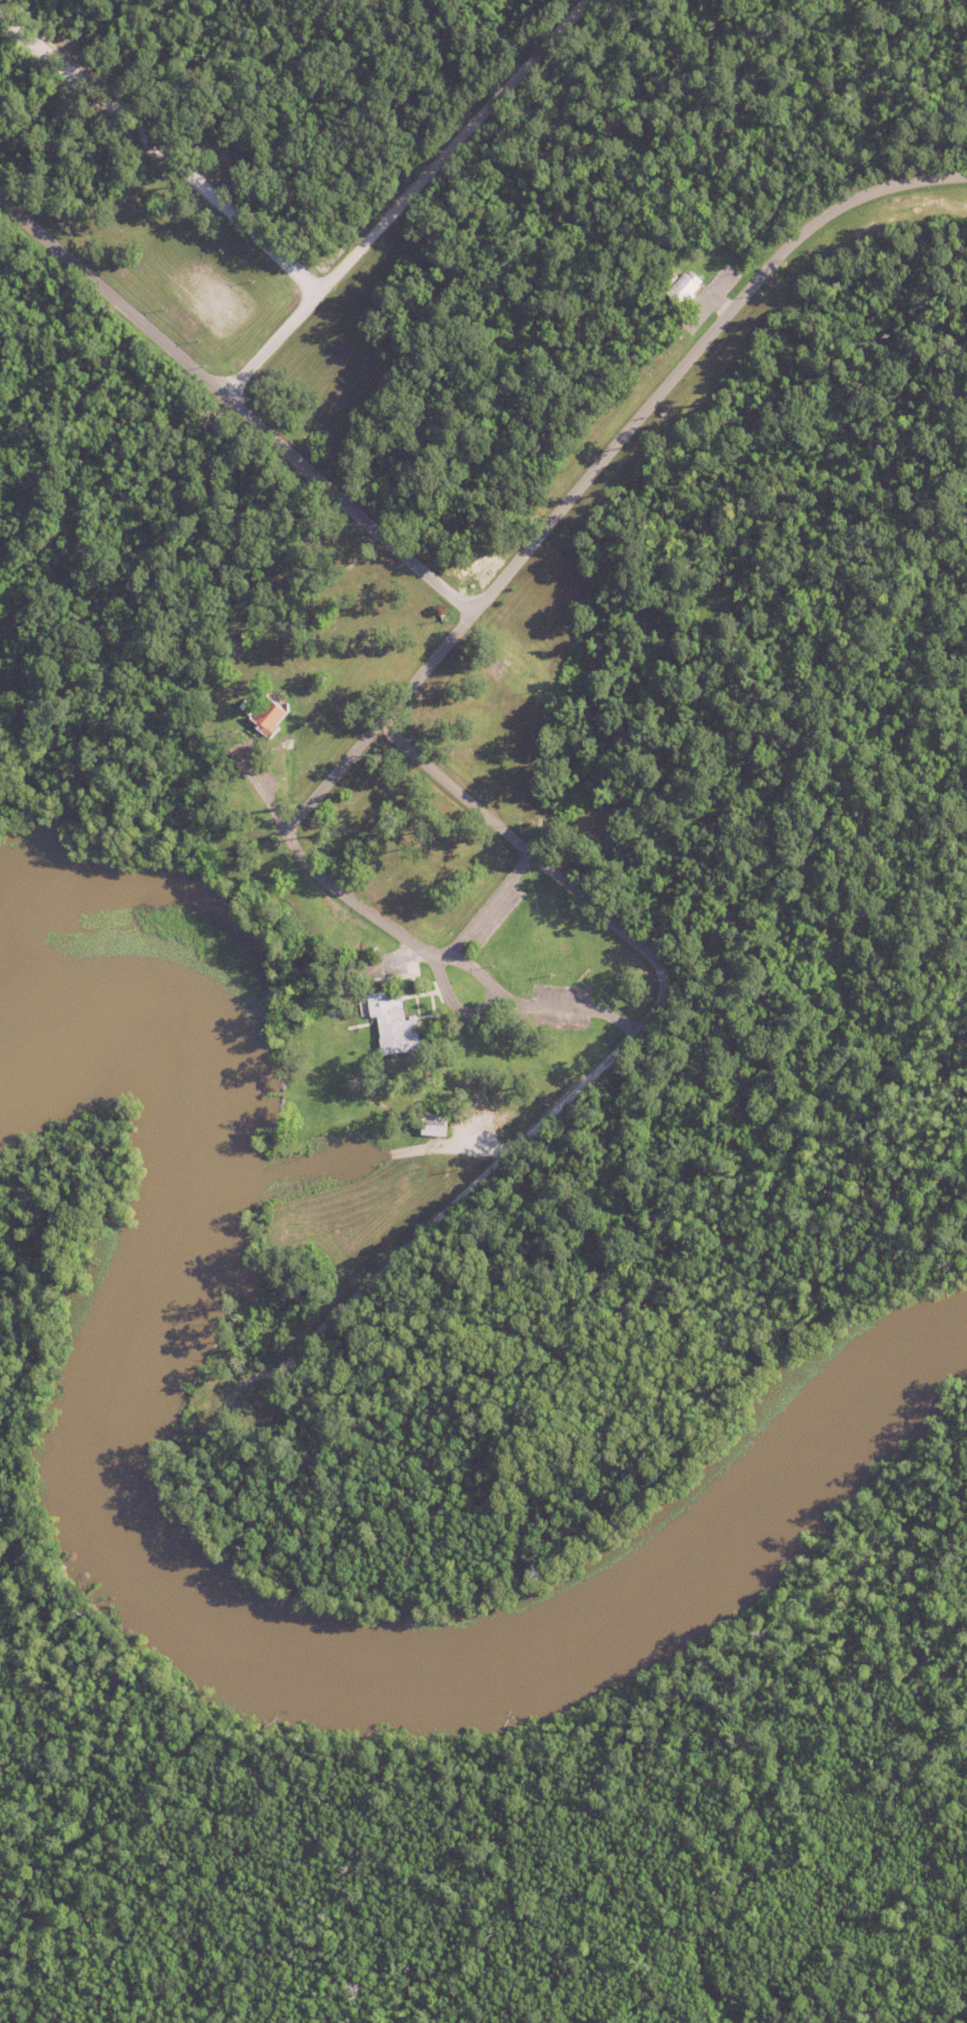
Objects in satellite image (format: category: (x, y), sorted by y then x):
road: (451, 148)
road: (159, 149)
building: (686, 287)
road: (271, 343)
road: (238, 402)
road: (644, 408)
building: (269, 717)
road: (334, 774)
building: (395, 1024)
building: (436, 1123)
road: (390, 1259)
building: (197, 1389)
river: (220, 1624)

